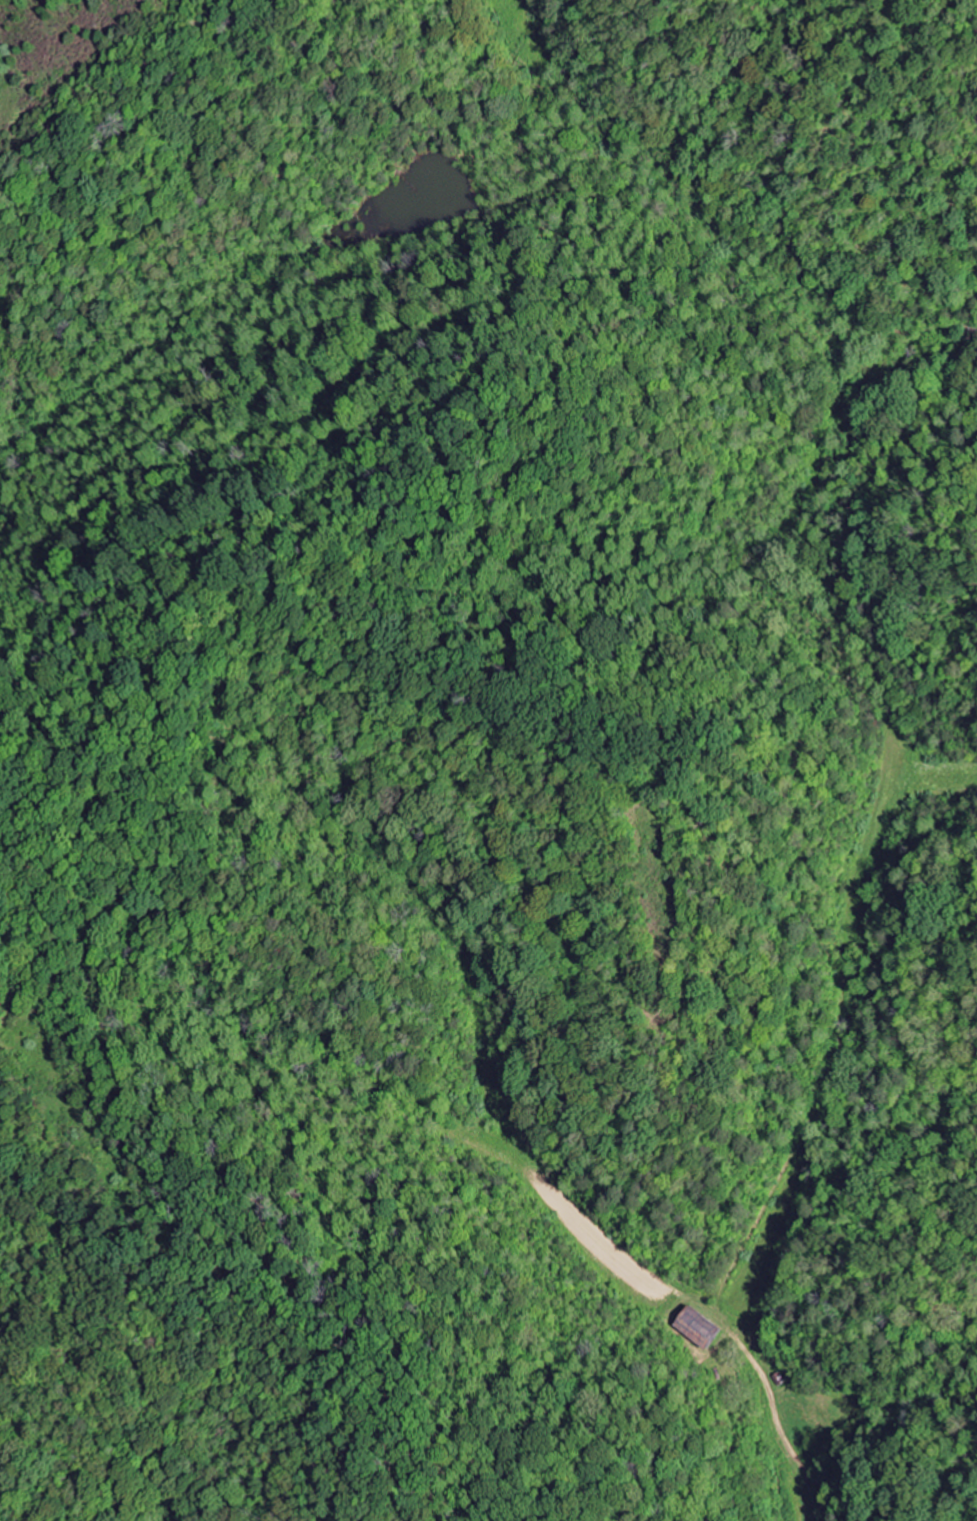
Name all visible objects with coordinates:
road: (868, 305)
road: (894, 330)
road: (837, 948)
building: (698, 1328)

